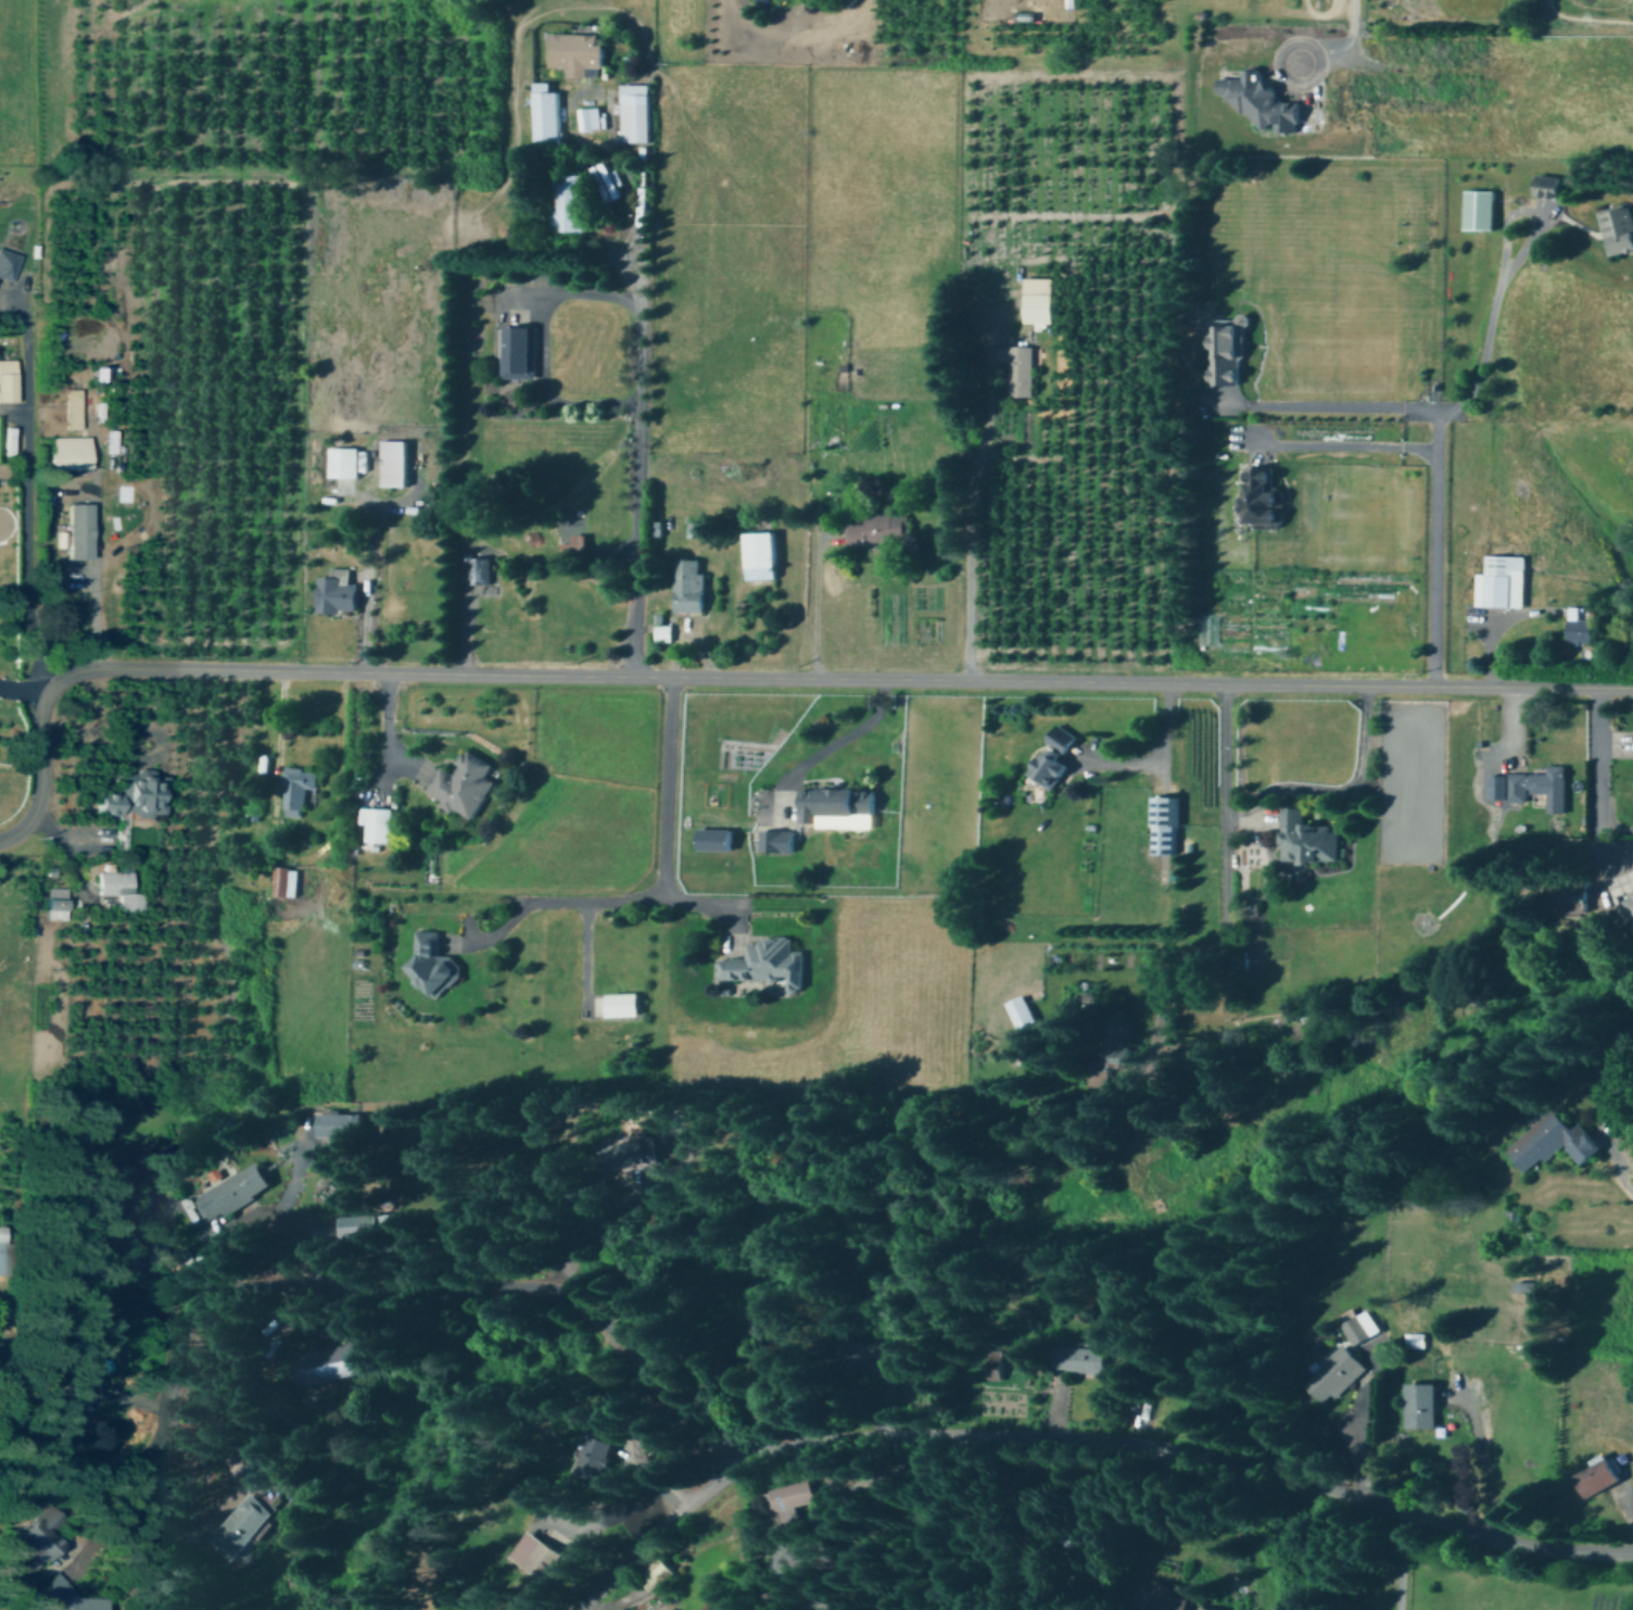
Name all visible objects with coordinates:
road: (1342, 42)
building: (577, 51)
building: (1264, 100)
building: (546, 111)
building: (635, 112)
building: (587, 117)
building: (605, 177)
building: (1550, 185)
building: (572, 202)
building: (1481, 209)
building: (1619, 227)
building: (9, 263)
building: (1041, 299)
road: (1492, 315)
building: (520, 351)
road: (533, 352)
building: (1229, 355)
building: (1022, 369)
road: (628, 370)
building: (9, 379)
building: (75, 407)
road: (1340, 407)
building: (10, 439)
road: (1350, 448)
building: (73, 451)
building: (347, 461)
building: (395, 462)
road: (30, 489)
building: (1267, 498)
road: (962, 500)
building: (84, 529)
building: (881, 537)
building: (577, 542)
road: (1436, 548)
road: (98, 554)
building: (761, 554)
building: (481, 569)
building: (1504, 580)
building: (689, 586)
road: (15, 590)
building: (339, 590)
road: (816, 608)
road: (356, 613)
road: (461, 615)
building: (1585, 628)
building: (664, 631)
road: (751, 678)
road: (22, 692)
road: (278, 731)
road: (379, 733)
road: (839, 738)
building: (1056, 757)
road: (1159, 758)
road: (1598, 782)
building: (466, 783)
building: (1533, 784)
building: (298, 788)
road: (1273, 790)
building: (140, 793)
building: (840, 805)
road: (667, 819)
building: (1165, 821)
building: (381, 823)
building: (1311, 835)
building: (719, 837)
building: (781, 838)
building: (286, 880)
building: (122, 886)
road: (566, 900)
building: (58, 902)
building: (1631, 902)
road: (1200, 946)
building: (769, 960)
building: (436, 961)
building: (626, 1003)
building: (1023, 1010)
building: (1103, 1076)
building: (342, 1122)
building: (1555, 1140)
building: (643, 1149)
road: (1625, 1186)
building: (235, 1190)
road: (591, 1222)
building: (371, 1224)
building: (3, 1247)
building: (1528, 1284)
building: (1364, 1325)
building: (1087, 1357)
building: (332, 1360)
building: (1337, 1372)
road: (176, 1389)
building: (1425, 1404)
road: (894, 1437)
road: (1358, 1438)
building: (598, 1457)
road: (1484, 1462)
building: (1599, 1475)
building: (787, 1500)
road: (224, 1505)
building: (240, 1523)
road: (651, 1535)
building: (43, 1536)
building: (540, 1554)
road: (1401, 1561)
building: (71, 1594)
building: (1205, 1608)

